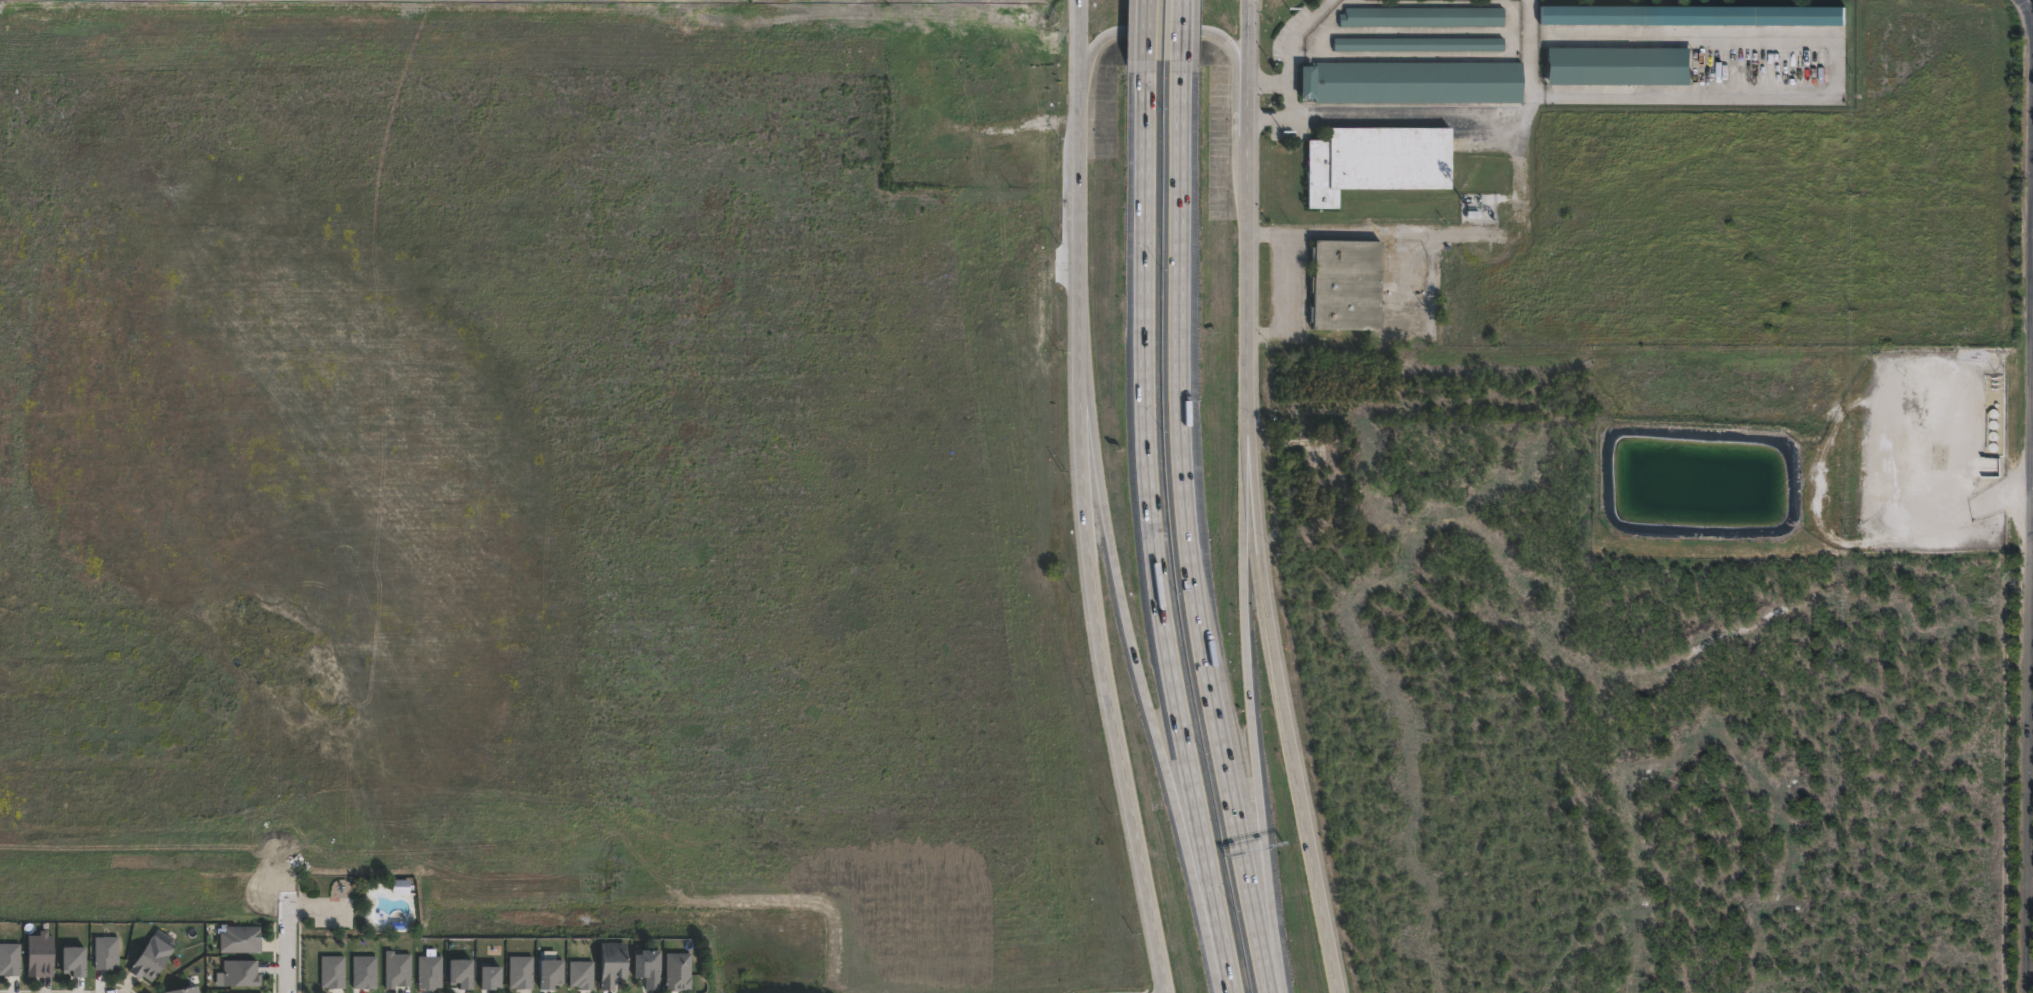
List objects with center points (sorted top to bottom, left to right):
road: (2030, 4)
road: (765, 7)
building: (1419, 14)
building: (1692, 14)
road: (1156, 30)
road: (1147, 35)
road: (1181, 36)
building: (1415, 41)
road: (1292, 51)
building: (1617, 65)
building: (1410, 79)
road: (1441, 114)
building: (1374, 158)
road: (1246, 186)
building: (1343, 282)
road: (1403, 286)
road: (1402, 377)
road: (1371, 499)
road: (1079, 500)
road: (1425, 500)
road: (1478, 500)
road: (1152, 535)
road: (1189, 535)
road: (1260, 567)
road: (1705, 576)
road: (1954, 577)
road: (2031, 595)
road: (1647, 623)
road: (1137, 674)
road: (1246, 684)
road: (1820, 706)
road: (1944, 720)
road: (1371, 739)
road: (1425, 739)
road: (1923, 784)
road: (1523, 807)
road: (1477, 808)
road: (1398, 856)
road: (1472, 856)
road: (1964, 856)
road: (1944, 868)
road: (1561, 872)
road: (1884, 875)
road: (1314, 876)
building: (400, 887)
building: (1721, 893)
road: (1599, 909)
road: (1847, 911)
road: (1424, 924)
road: (287, 938)
building: (241, 939)
building: (106, 951)
building: (41, 954)
building: (10, 958)
building: (74, 959)
building: (150, 961)
building: (612, 963)
building: (648, 967)
building: (397, 970)
building: (679, 971)
building: (241, 972)
building: (333, 972)
building: (521, 972)
building: (365, 973)
building: (431, 973)
building: (462, 975)
building: (552, 975)
building: (582, 975)
building: (492, 979)
building: (184, 990)

